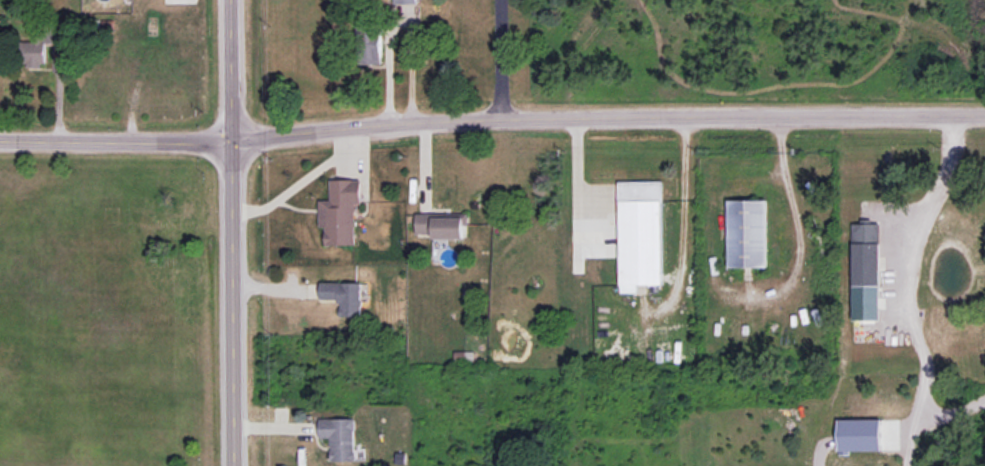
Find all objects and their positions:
building: (410, 1)
building: (371, 46)
building: (38, 47)
road: (499, 60)
road: (608, 118)
road: (116, 140)
road: (425, 167)
road: (301, 181)
building: (340, 211)
road: (796, 221)
building: (441, 224)
road: (682, 225)
road: (233, 232)
building: (640, 233)
building: (747, 233)
building: (866, 271)
road: (906, 289)
building: (344, 296)
road: (952, 411)
building: (859, 434)
building: (339, 437)

